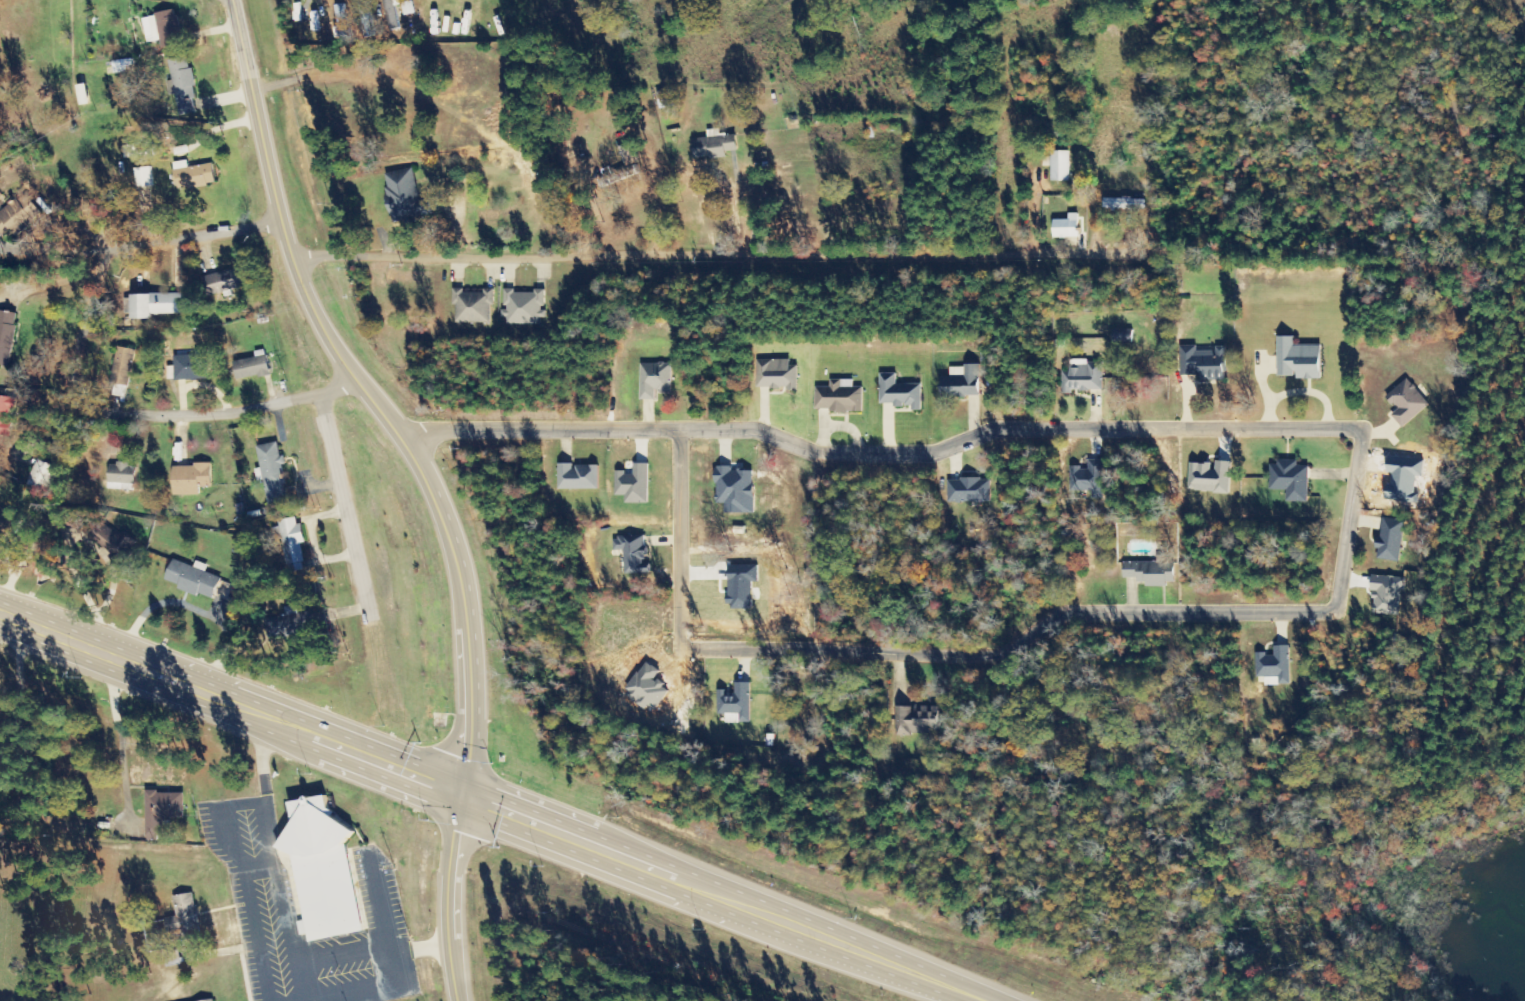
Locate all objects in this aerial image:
building: (405, 7)
building: (391, 15)
building: (367, 19)
building: (342, 22)
building: (163, 28)
building: (122, 66)
building: (182, 85)
building: (82, 94)
building: (713, 145)
building: (129, 151)
building: (628, 154)
building: (1060, 165)
building: (625, 174)
building: (193, 175)
building: (143, 177)
building: (403, 195)
building: (1123, 204)
building: (17, 216)
building: (1066, 227)
road: (706, 254)
building: (224, 281)
building: (157, 305)
building: (473, 307)
building: (524, 307)
building: (6, 336)
building: (1298, 360)
building: (1203, 363)
building: (121, 366)
road: (77, 367)
building: (190, 367)
building: (251, 367)
building: (775, 375)
building: (654, 380)
building: (961, 383)
building: (899, 393)
building: (838, 397)
building: (1406, 403)
building: (6, 414)
road: (841, 454)
building: (271, 474)
building: (42, 475)
building: (121, 477)
building: (577, 477)
building: (190, 479)
building: (1088, 479)
building: (1290, 480)
road: (420, 482)
building: (633, 485)
building: (735, 490)
building: (969, 491)
road: (338, 503)
road: (1348, 520)
building: (7, 523)
road: (678, 539)
building: (1389, 540)
building: (112, 542)
building: (291, 543)
building: (631, 554)
building: (1151, 572)
building: (192, 579)
building: (1385, 594)
building: (290, 623)
road: (1011, 650)
building: (1274, 666)
building: (735, 704)
building: (913, 722)
building: (5, 758)
traffic signals: (452, 792)
road: (490, 808)
building: (162, 811)
building: (320, 871)
road: (383, 907)
building: (183, 918)
road: (284, 918)
building: (213, 1000)

